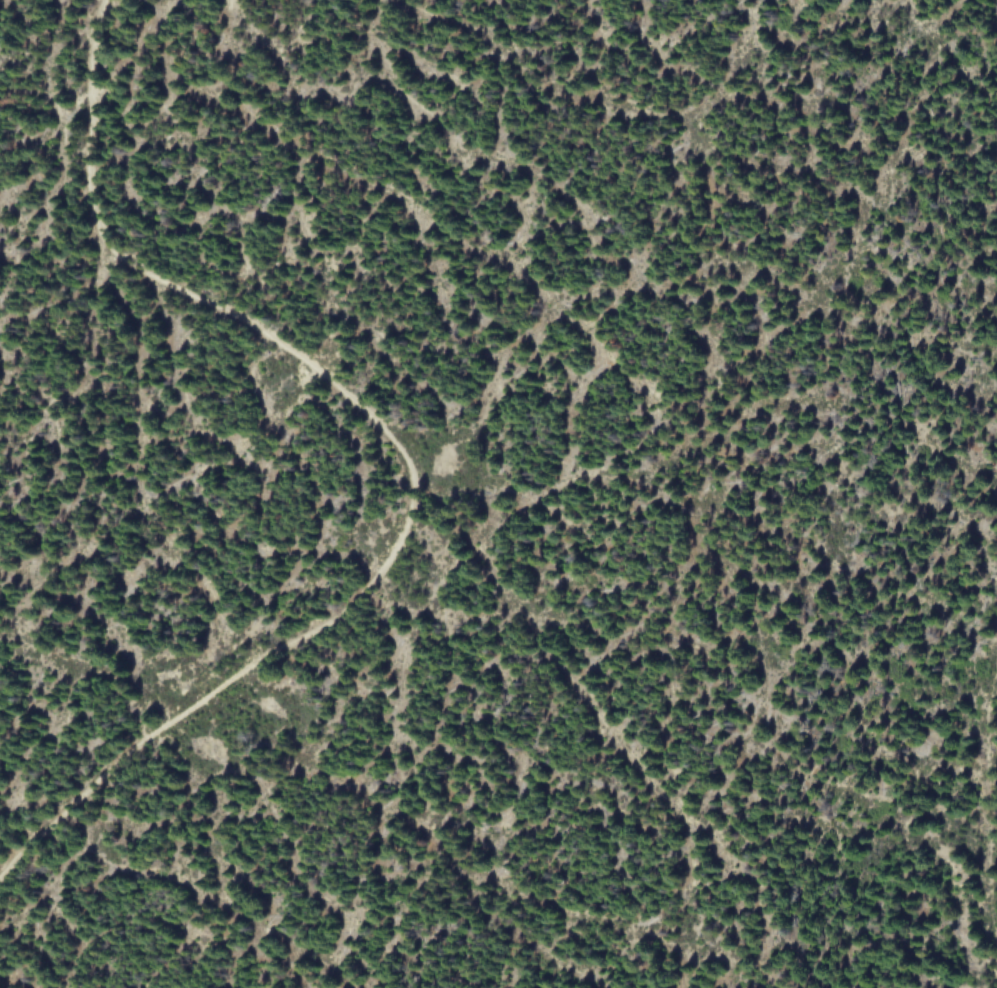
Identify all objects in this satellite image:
road: (404, 453)

